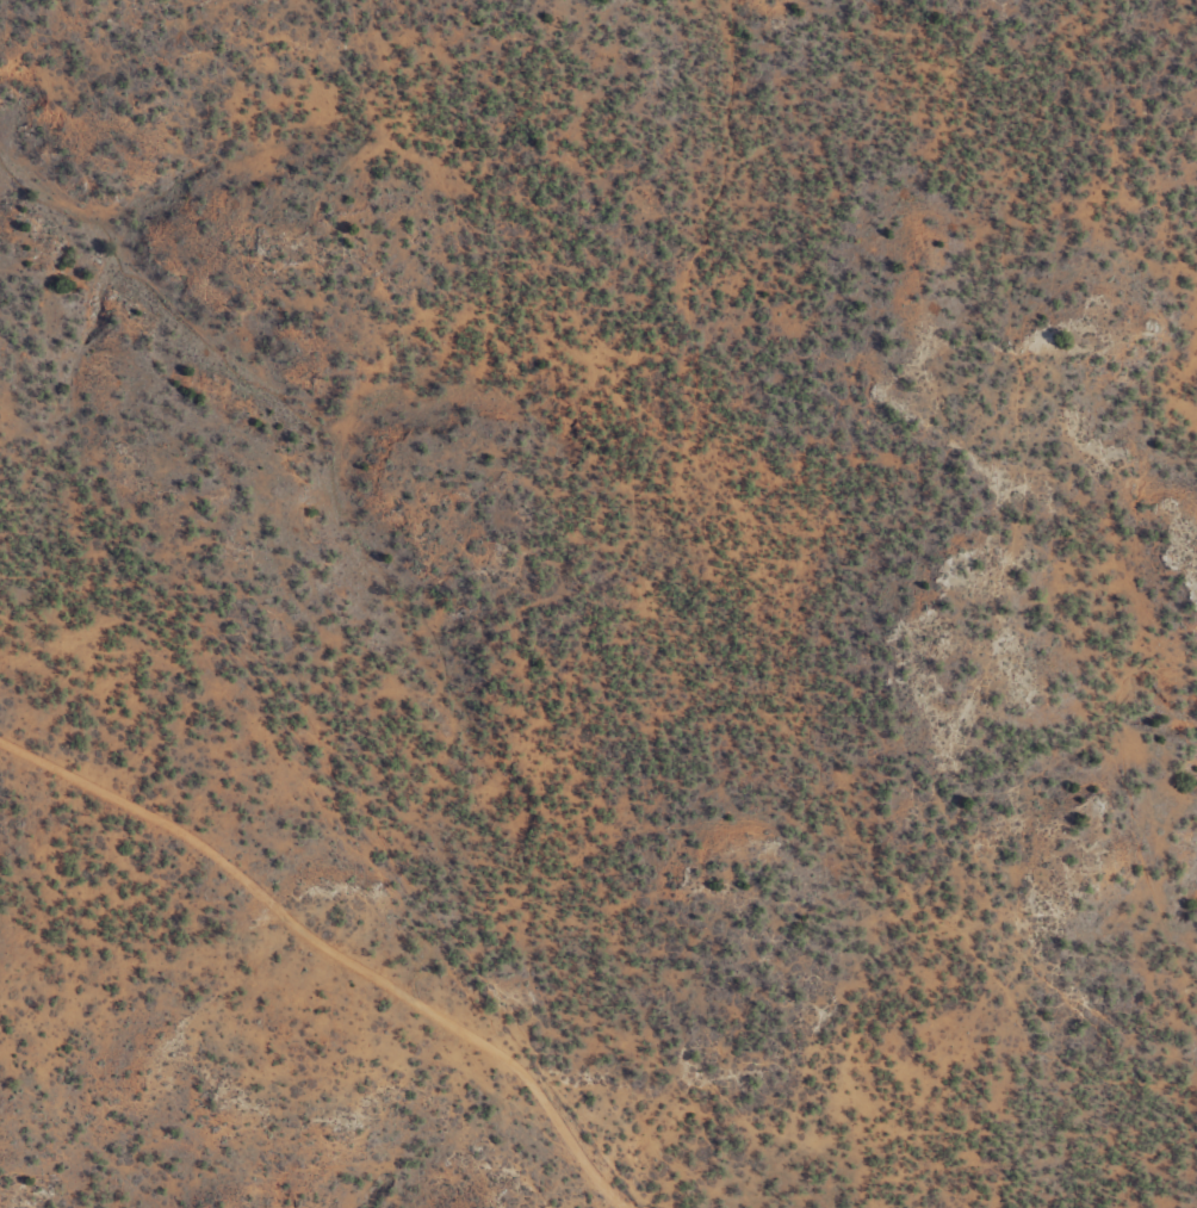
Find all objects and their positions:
road: (337, 952)

